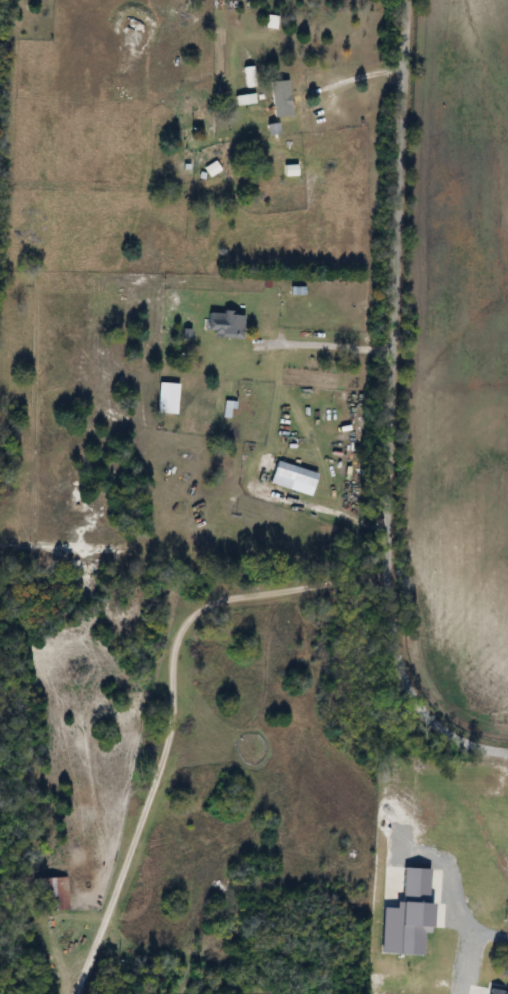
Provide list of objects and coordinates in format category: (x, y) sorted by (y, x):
building: (270, 22)
building: (249, 76)
road: (359, 76)
building: (243, 100)
building: (262, 121)
building: (211, 170)
building: (290, 173)
building: (221, 324)
building: (170, 398)
road: (294, 408)
road: (391, 409)
road: (169, 704)
road: (447, 887)

